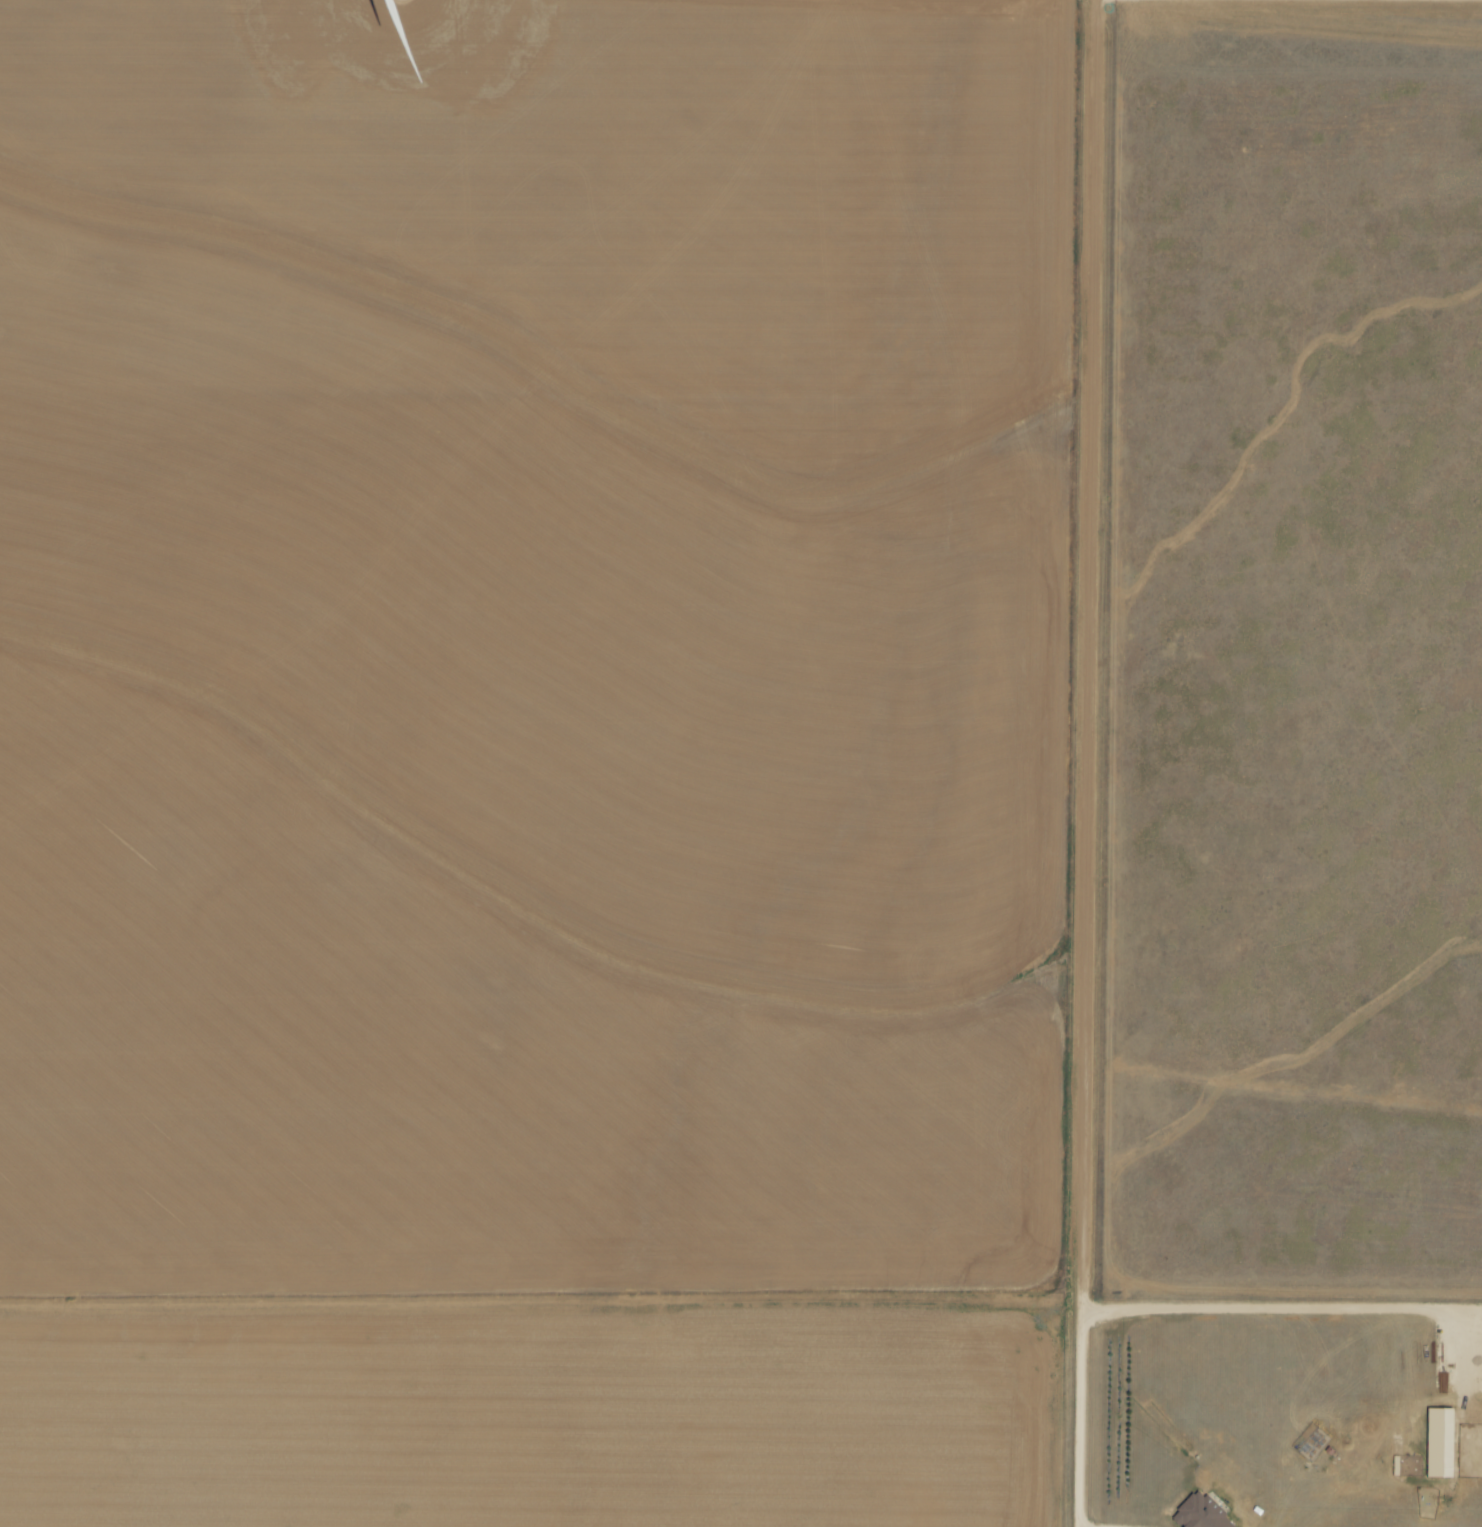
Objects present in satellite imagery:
road: (1090, 763)

